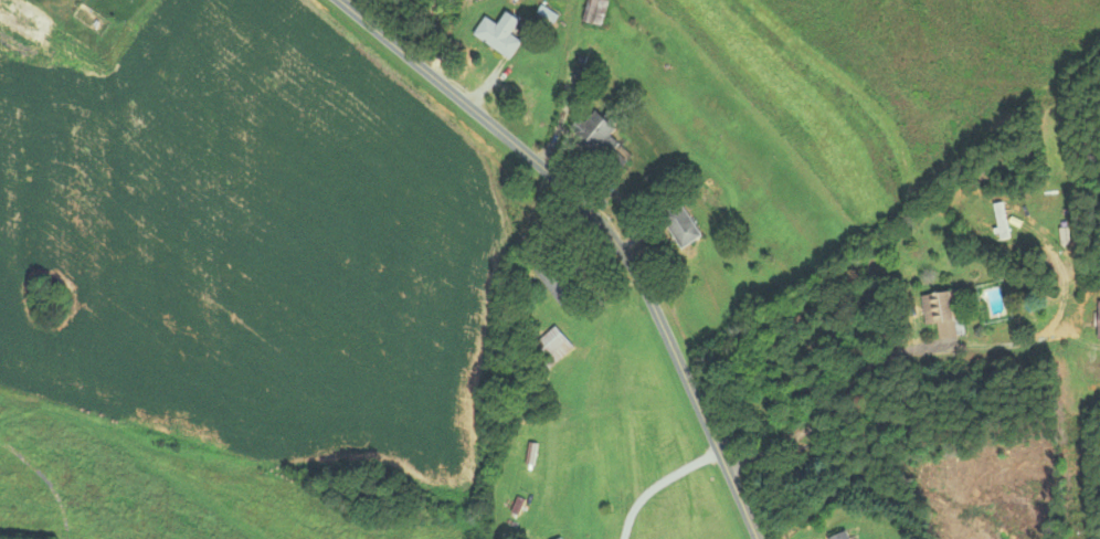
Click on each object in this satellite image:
building: (594, 11)
building: (501, 32)
building: (600, 129)
building: (1003, 219)
building: (683, 223)
road: (605, 228)
building: (558, 279)
building: (948, 308)
building: (552, 345)
building: (530, 391)
road: (47, 480)
road: (658, 482)
building: (839, 535)
building: (562, 538)

